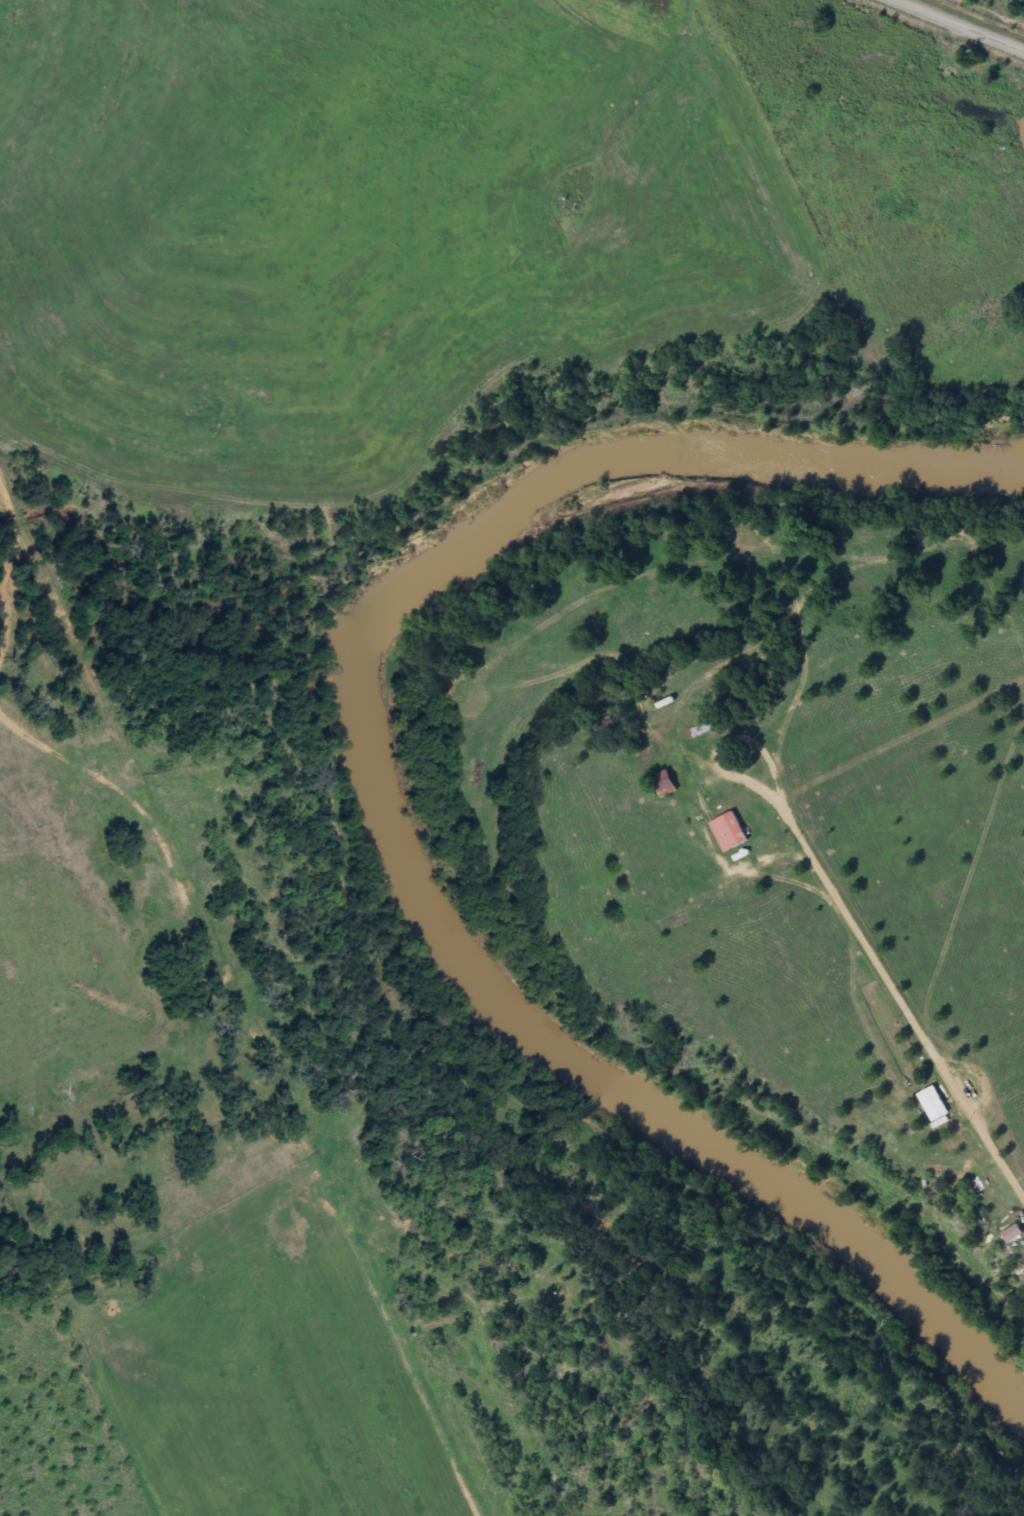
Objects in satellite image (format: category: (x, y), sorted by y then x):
road: (962, 24)
building: (664, 784)
river: (382, 820)
building: (728, 833)
building: (1012, 1235)

